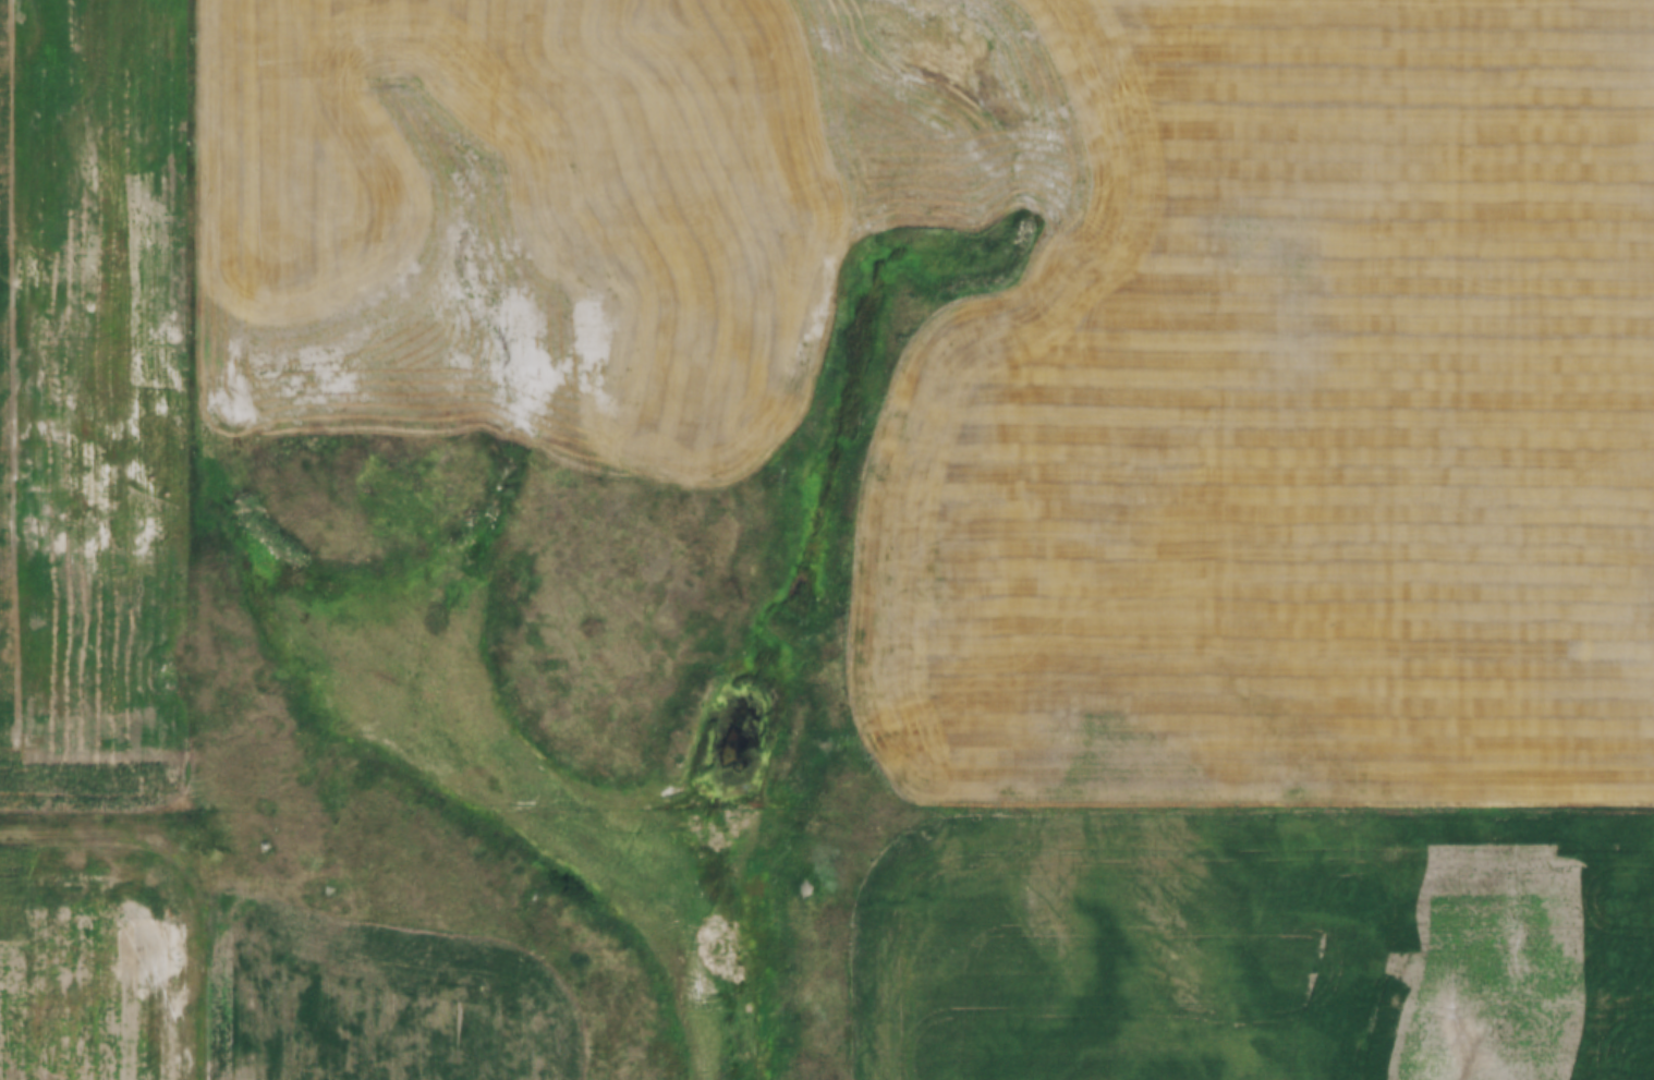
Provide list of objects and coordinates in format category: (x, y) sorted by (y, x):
road: (1220, 563)
road: (196, 873)

